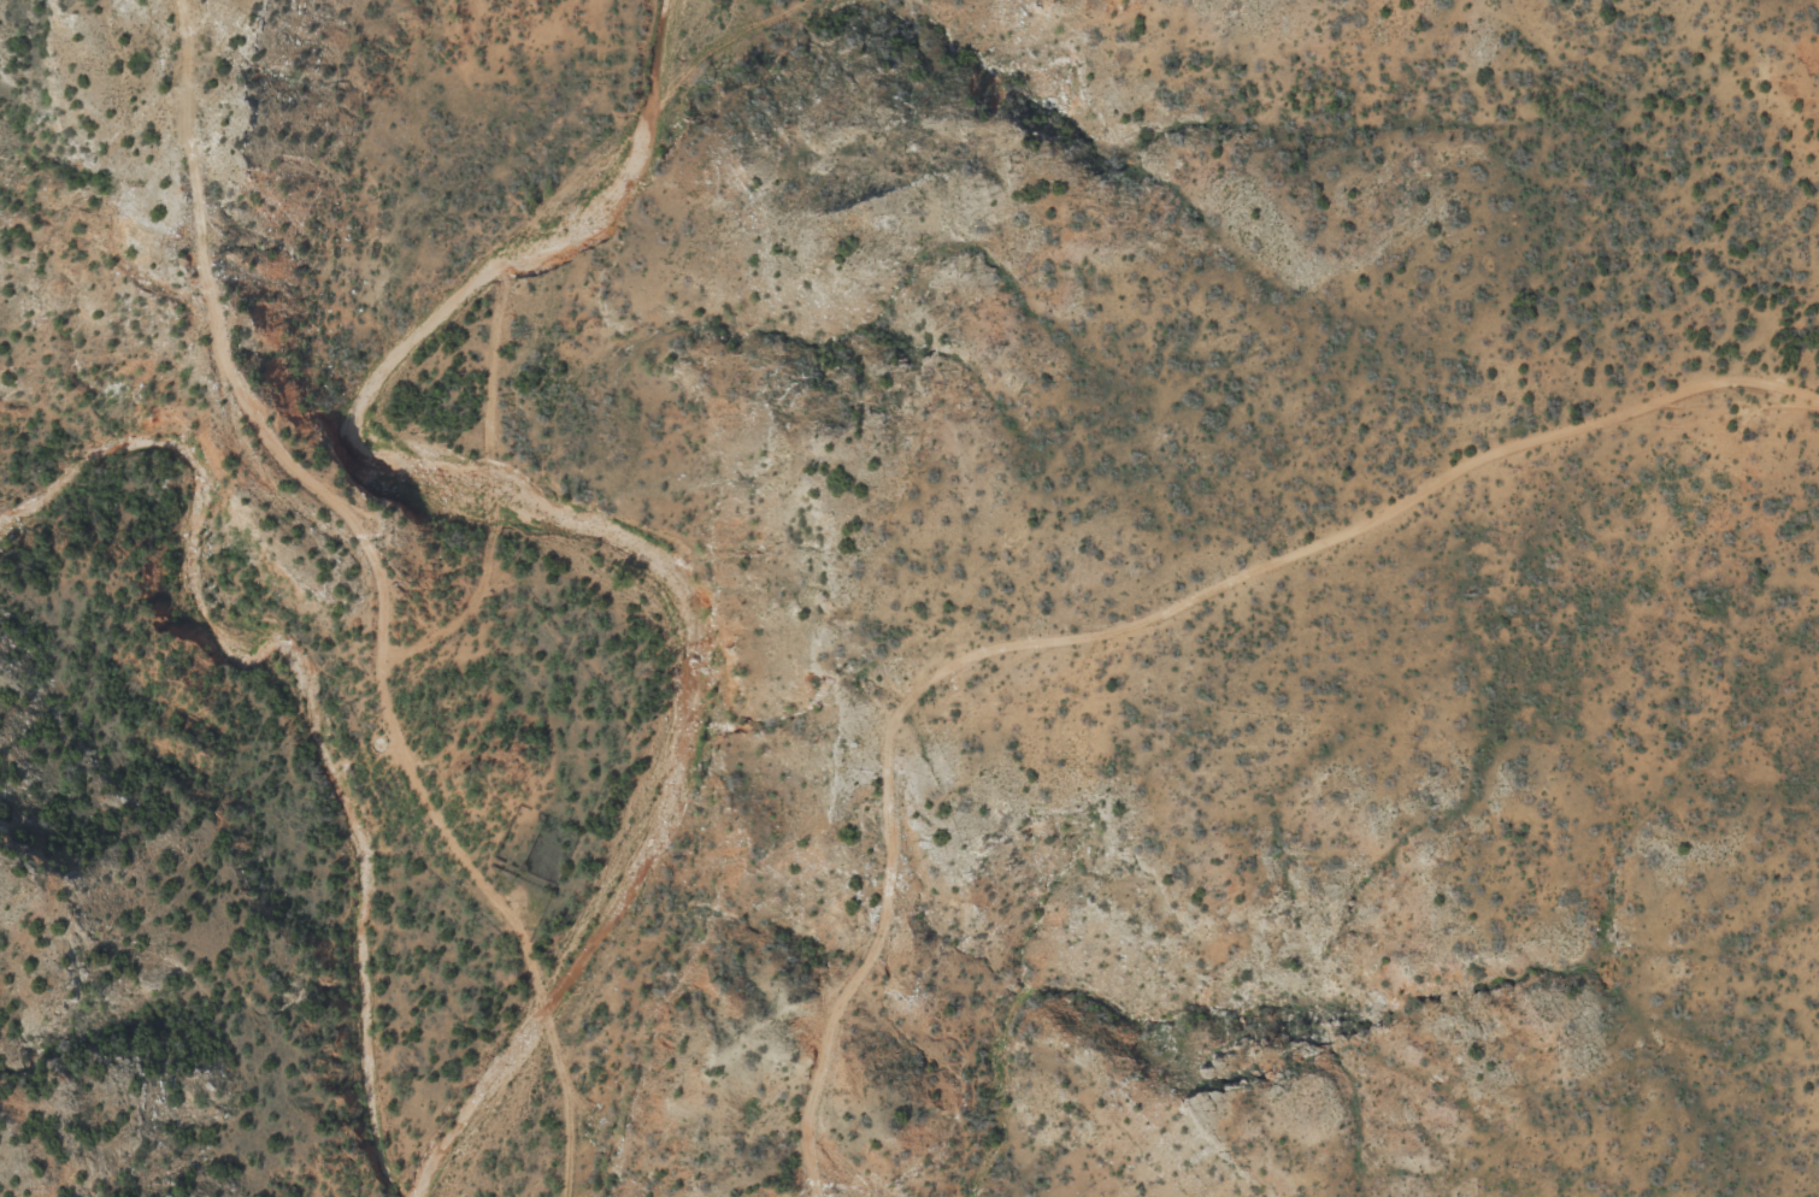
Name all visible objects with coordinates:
road: (298, 609)
road: (1234, 820)

